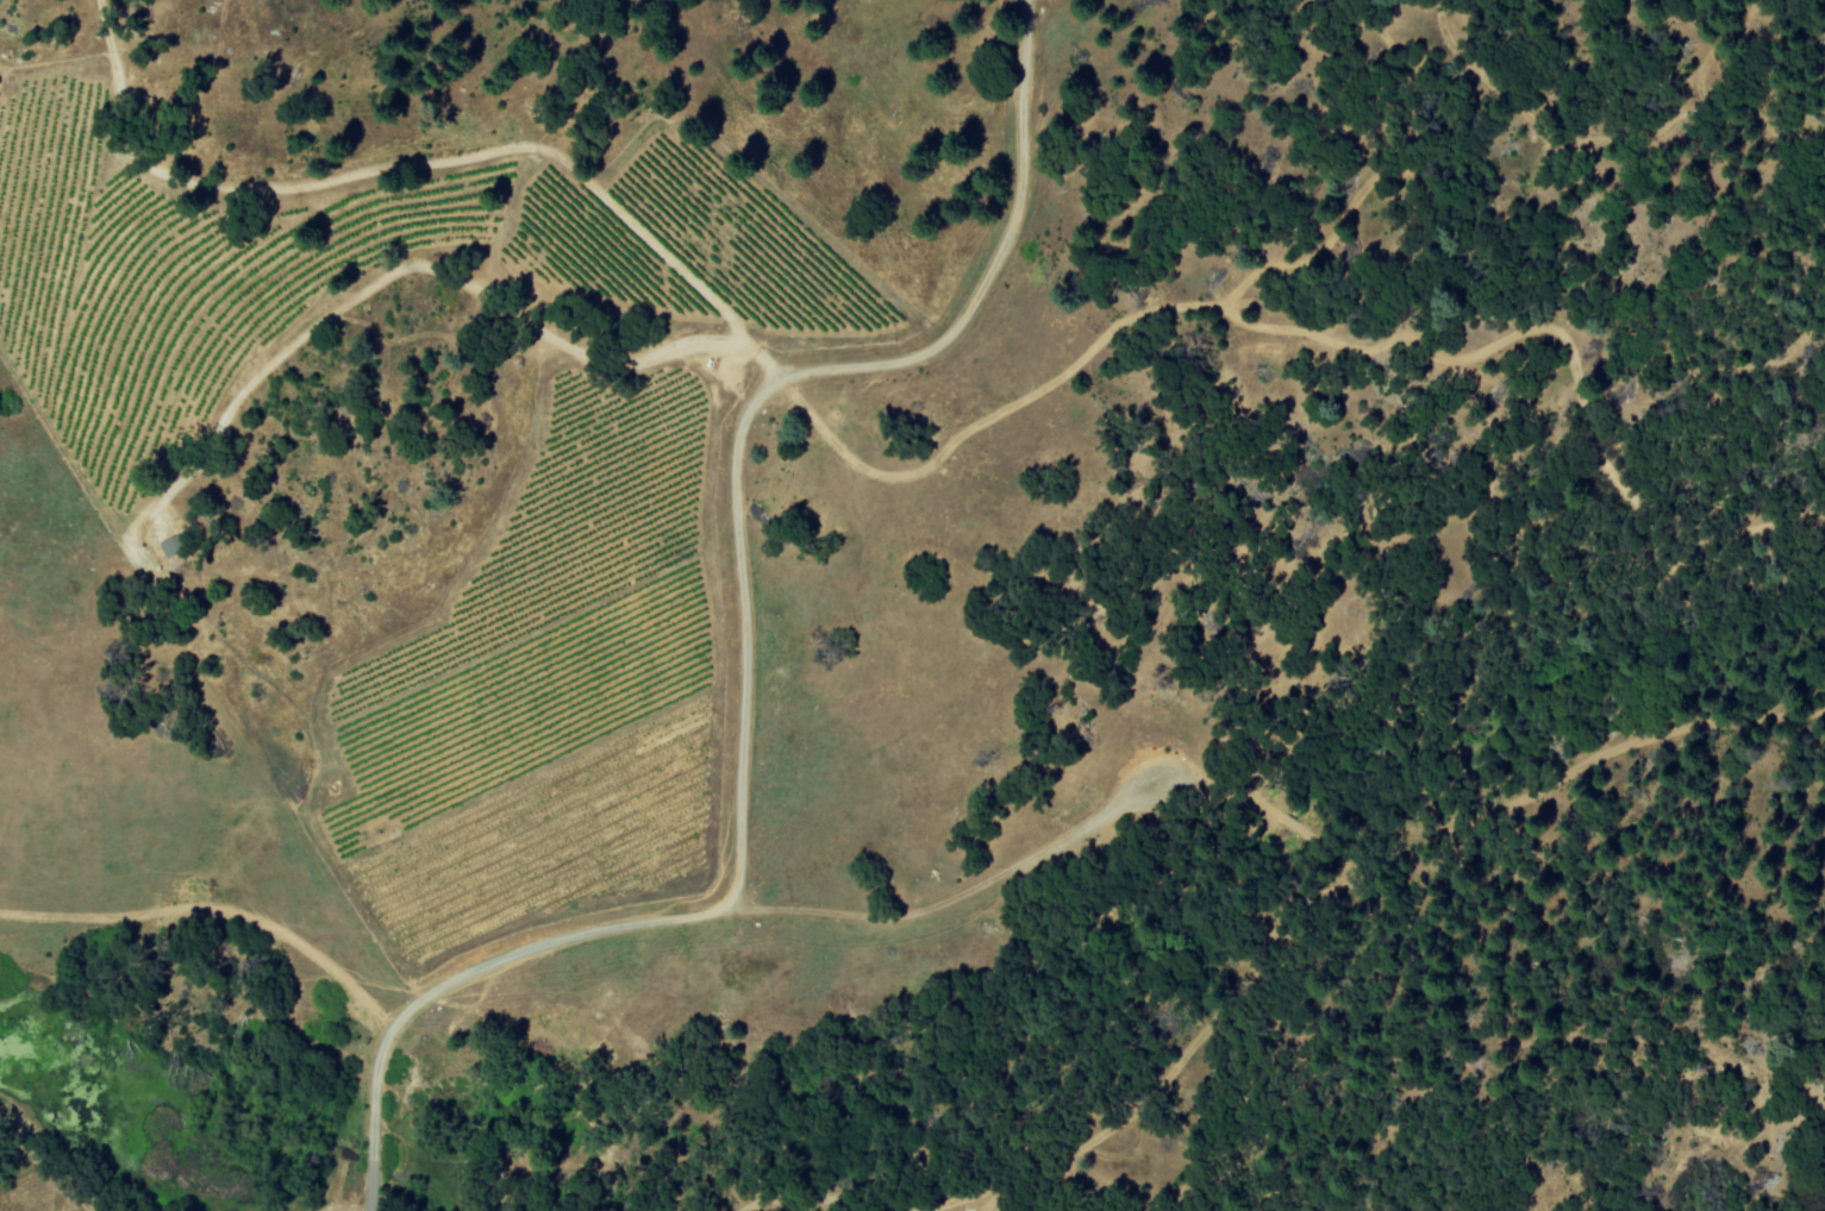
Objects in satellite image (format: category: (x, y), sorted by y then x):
crop: (612, 501)
building: (174, 546)
road: (370, 1194)

